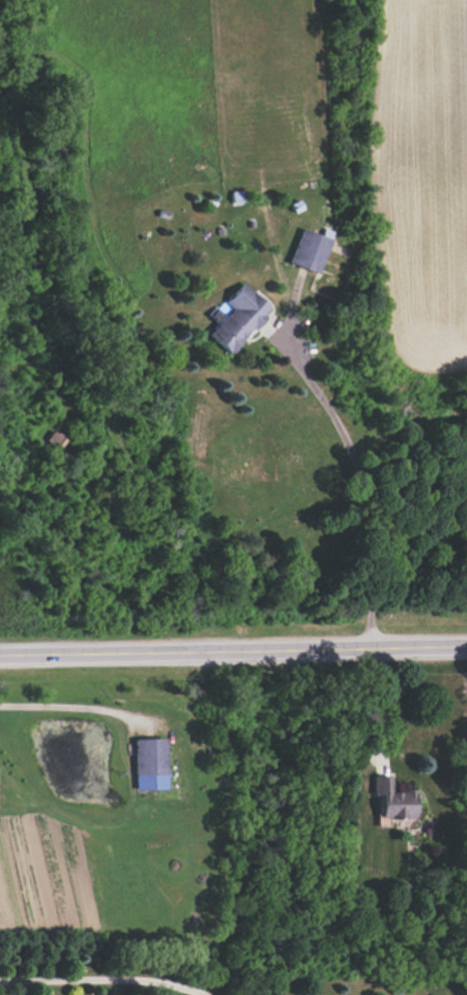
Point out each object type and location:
crop: (425, 173)
building: (310, 250)
building: (237, 317)
road: (362, 479)
road: (233, 651)
road: (73, 707)
road: (382, 707)
building: (149, 764)
building: (392, 800)
road: (102, 978)
building: (431, 994)

